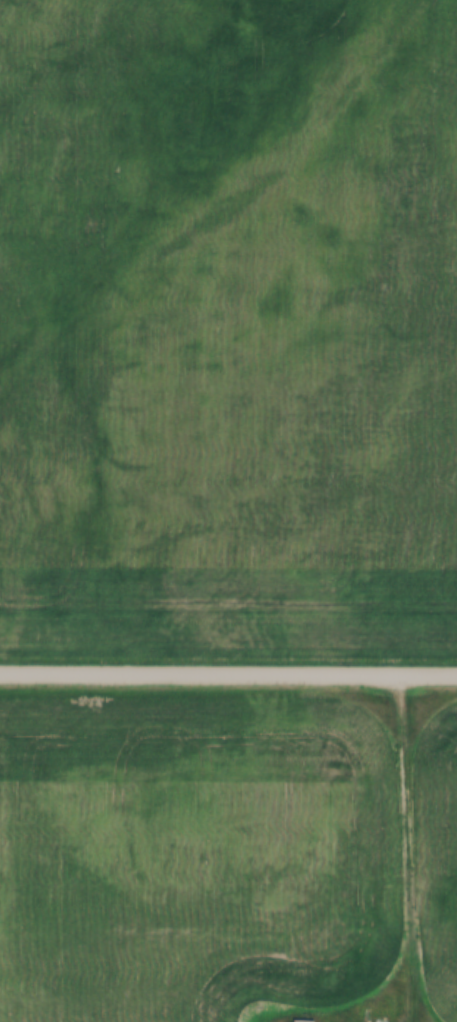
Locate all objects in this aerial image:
road: (228, 675)
building: (378, 1020)

